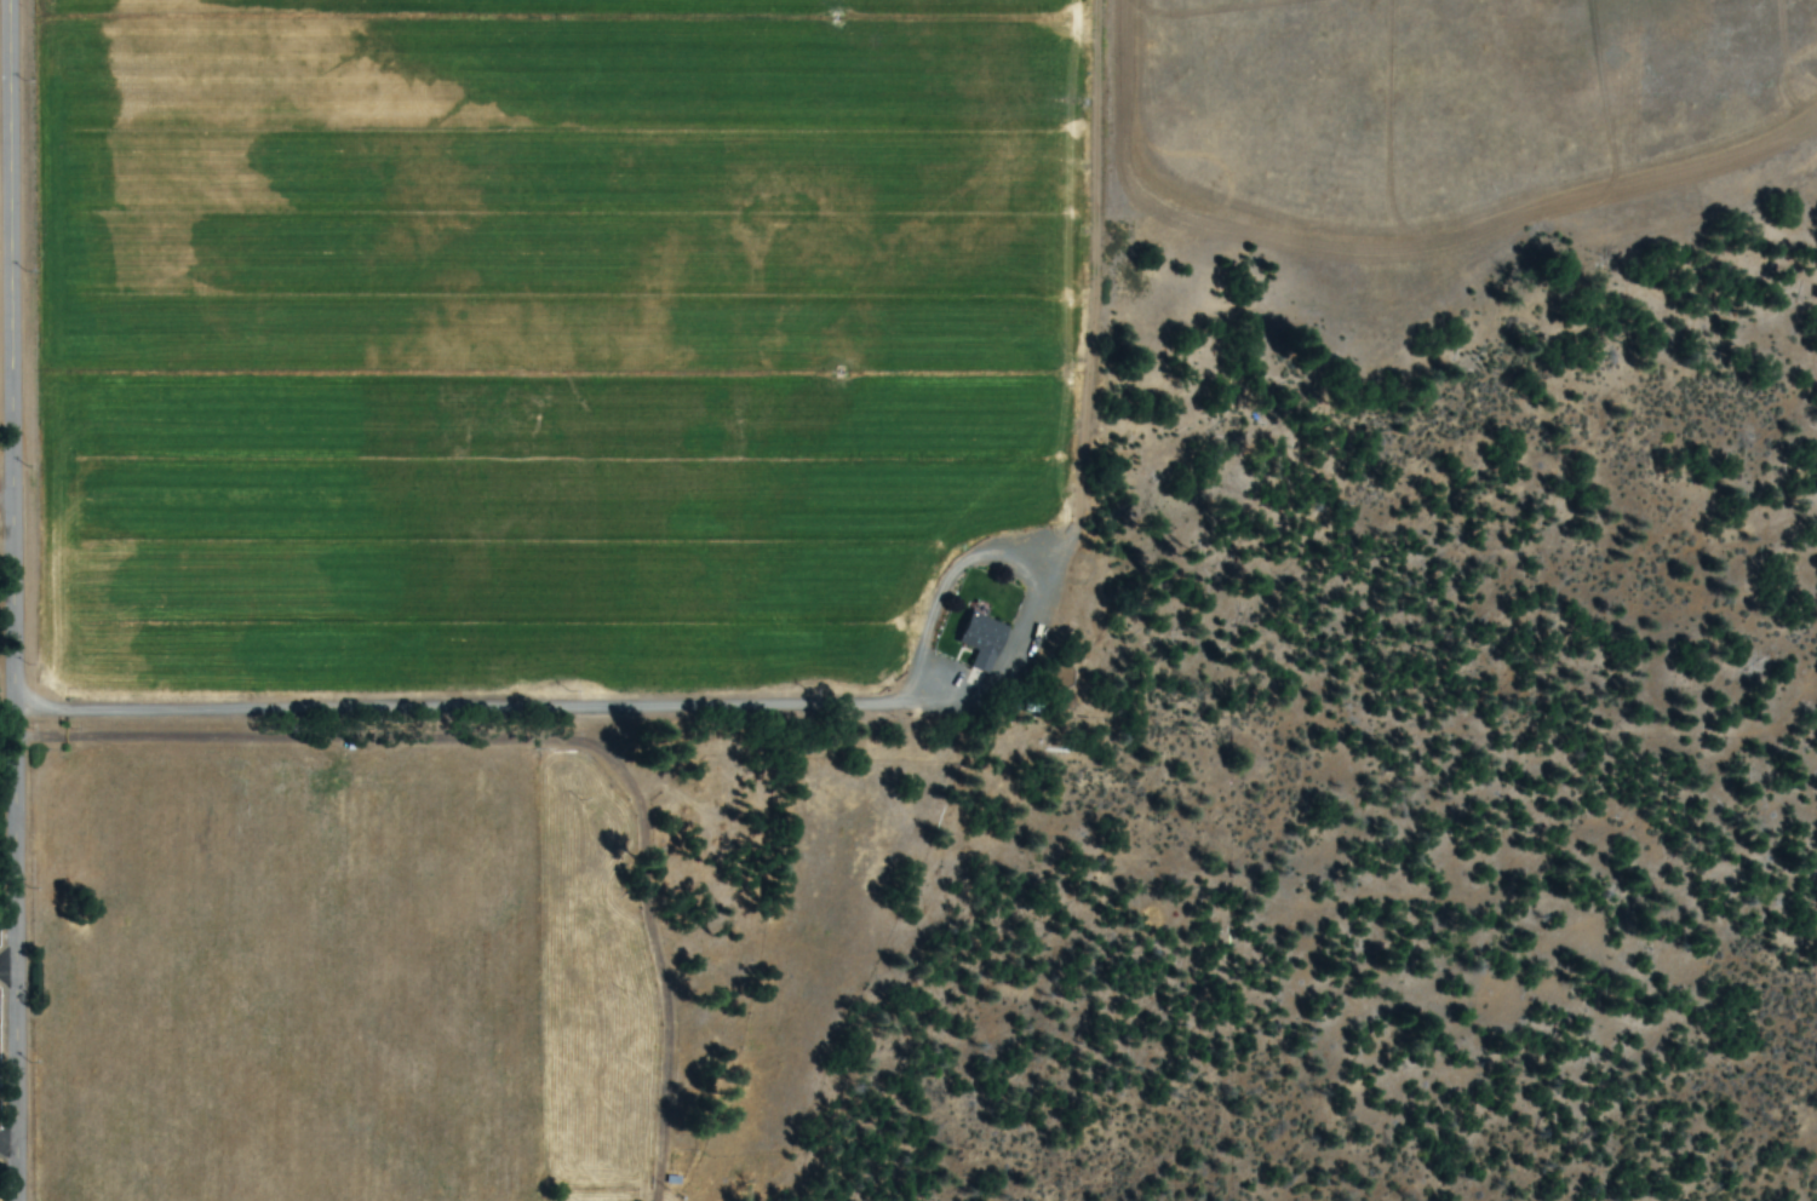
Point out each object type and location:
road: (16, 599)
building: (979, 640)
road: (488, 724)

